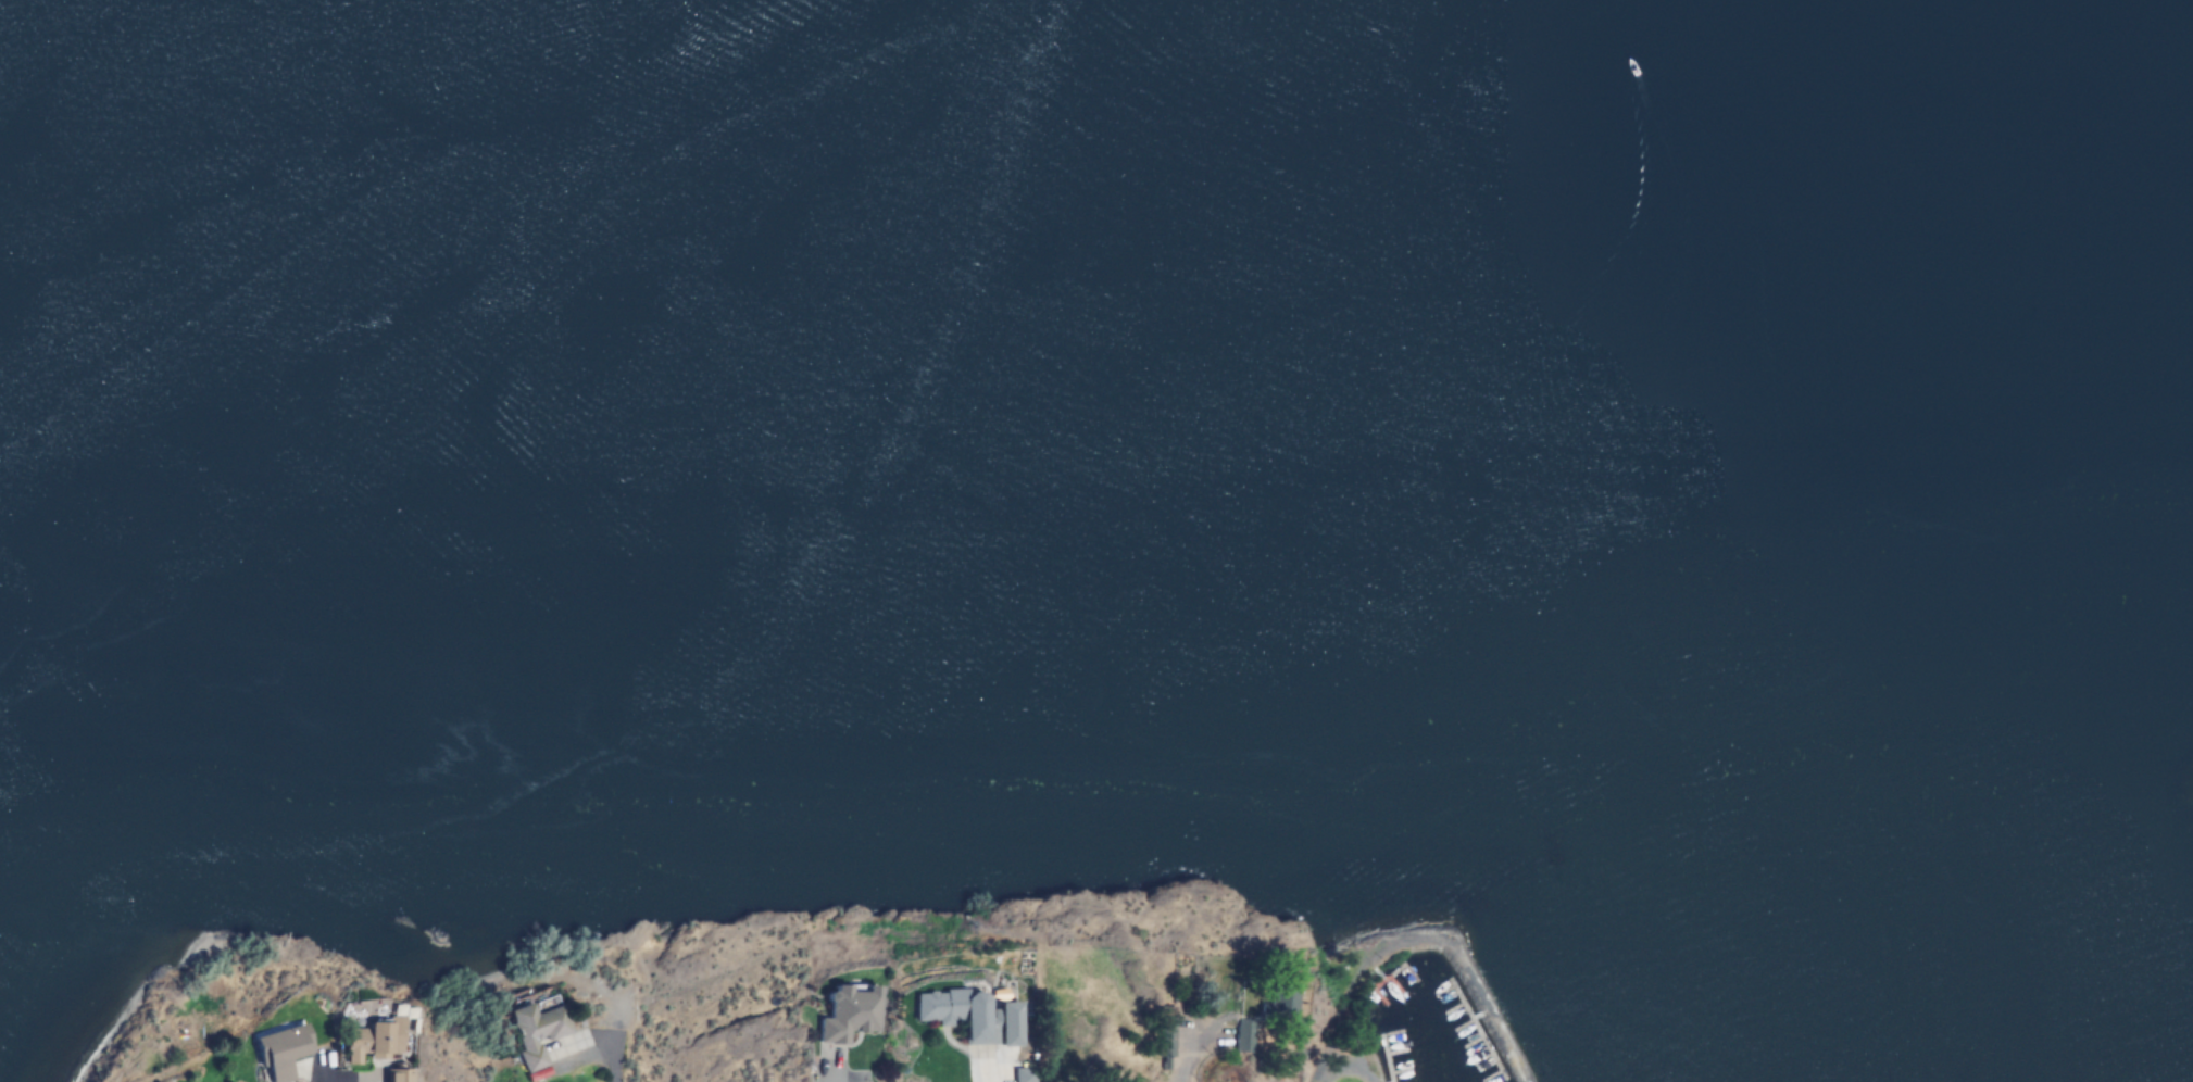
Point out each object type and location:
park: (699, 921)
building: (848, 1015)
building: (969, 1017)
building: (1265, 1017)
building: (536, 1033)
building: (1167, 1037)
building: (371, 1043)
building: (279, 1052)
road: (613, 1066)
building: (396, 1077)

